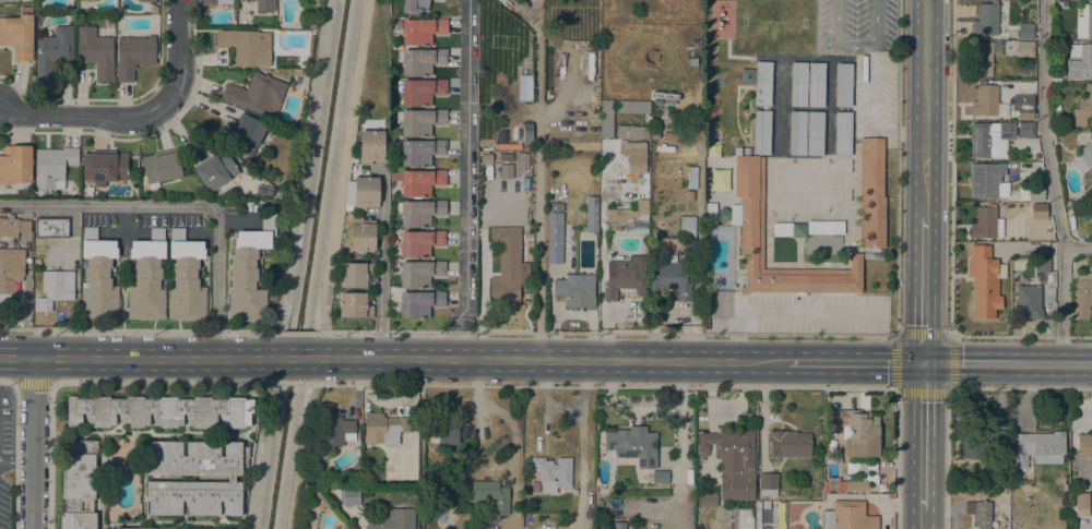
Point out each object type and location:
building: (87, 0)
building: (146, 0)
building: (438, 0)
building: (214, 1)
building: (263, 4)
building: (414, 7)
building: (153, 9)
building: (985, 20)
building: (1084, 22)
building: (422, 31)
building: (1025, 31)
building: (19, 34)
road: (838, 39)
building: (244, 47)
building: (1025, 49)
building: (52, 52)
building: (95, 52)
building: (133, 56)
building: (982, 57)
road: (180, 58)
building: (420, 60)
building: (1079, 61)
building: (692, 62)
building: (762, 84)
building: (798, 84)
building: (816, 85)
building: (842, 85)
road: (875, 86)
building: (419, 91)
building: (256, 95)
building: (986, 101)
building: (632, 106)
building: (1024, 107)
building: (1083, 107)
road: (925, 108)
road: (90, 116)
building: (605, 118)
building: (419, 121)
building: (1024, 130)
building: (632, 132)
building: (761, 132)
building: (797, 133)
building: (815, 133)
building: (842, 133)
building: (245, 134)
building: (672, 134)
building: (990, 139)
building: (370, 146)
building: (418, 152)
building: (633, 156)
road: (345, 157)
building: (506, 157)
building: (1084, 157)
building: (486, 158)
building: (522, 159)
building: (15, 167)
building: (52, 167)
building: (104, 167)
building: (161, 167)
road: (897, 167)
road: (951, 168)
building: (491, 169)
building: (215, 172)
road: (538, 175)
building: (691, 178)
road: (466, 179)
building: (982, 181)
road: (1051, 181)
building: (418, 182)
building: (717, 182)
building: (348, 192)
building: (365, 193)
building: (1036, 193)
building: (870, 194)
building: (1091, 194)
building: (1068, 203)
road: (182, 205)
building: (347, 208)
building: (630, 212)
building: (708, 212)
building: (418, 213)
building: (592, 214)
building: (1038, 214)
building: (723, 215)
building: (985, 224)
building: (750, 225)
building: (13, 227)
building: (687, 227)
building: (51, 228)
building: (807, 228)
building: (653, 231)
building: (361, 235)
building: (554, 238)
building: (419, 242)
building: (15, 245)
road: (1077, 249)
building: (39, 250)
road: (380, 262)
building: (1042, 264)
building: (506, 266)
building: (10, 269)
building: (419, 273)
building: (249, 274)
building: (355, 275)
building: (97, 277)
building: (146, 278)
building: (624, 278)
building: (186, 279)
building: (985, 280)
building: (669, 281)
building: (55, 289)
building: (575, 290)
road: (924, 290)
building: (1081, 296)
building: (1028, 302)
building: (419, 303)
building: (354, 305)
road: (786, 312)
road: (143, 329)
road: (297, 332)
road: (384, 332)
road: (816, 335)
road: (325, 336)
road: (895, 336)
road: (1020, 337)
road: (141, 357)
road: (294, 358)
road: (614, 360)
traffic signals: (924, 363)
road: (1008, 363)
road: (318, 372)
road: (333, 382)
road: (292, 383)
road: (32, 384)
road: (94, 384)
road: (867, 387)
road: (624, 408)
building: (159, 412)
building: (334, 426)
building: (384, 429)
building: (857, 432)
building: (448, 436)
road: (922, 436)
building: (432, 440)
road: (33, 443)
road: (679, 444)
building: (788, 444)
building: (633, 445)
building: (982, 445)
building: (1084, 445)
road: (15, 448)
building: (1037, 448)
road: (300, 457)
road: (16, 461)
building: (732, 462)
building: (855, 468)
building: (551, 474)
building: (660, 477)
building: (230, 479)
building: (768, 484)
building: (79, 485)
building: (856, 485)
building: (491, 495)
building: (348, 497)
building: (707, 498)
building: (1081, 501)
building: (598, 503)
building: (764, 505)
building: (980, 513)
building: (757, 515)
building: (779, 516)
building: (847, 516)
building: (741, 518)
building: (393, 519)
road: (921, 519)
building: (618, 526)
building: (344, 528)

